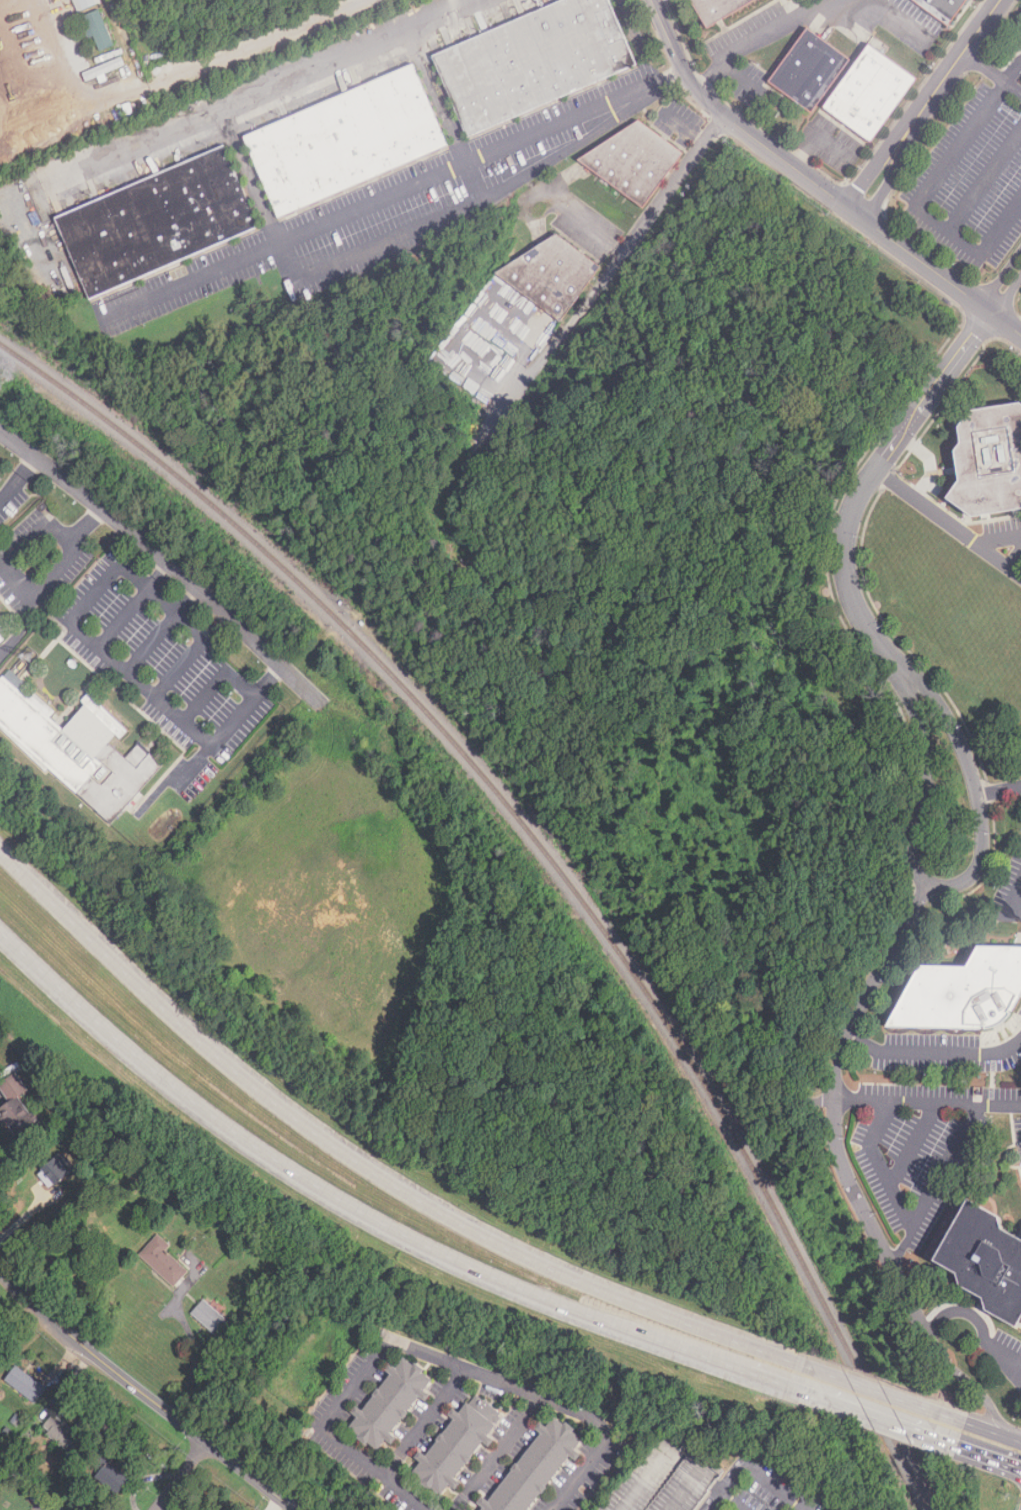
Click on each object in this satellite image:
building: (84, 4)
building: (943, 8)
building: (717, 9)
road: (902, 20)
building: (98, 30)
road: (761, 36)
building: (533, 61)
building: (809, 70)
road: (1012, 70)
road: (992, 72)
road: (742, 77)
road: (269, 85)
road: (437, 91)
building: (870, 93)
road: (925, 105)
road: (817, 135)
building: (345, 139)
building: (634, 160)
road: (250, 174)
road: (984, 180)
road: (674, 183)
road: (813, 184)
road: (393, 192)
road: (919, 202)
building: (156, 221)
road: (583, 221)
road: (388, 238)
building: (552, 274)
road: (1007, 288)
road: (600, 289)
road: (534, 371)
building: (986, 461)
road: (18, 479)
road: (867, 485)
road: (945, 514)
road: (1000, 535)
road: (144, 544)
road: (1016, 556)
road: (1016, 566)
road: (25, 590)
road: (133, 604)
road: (160, 628)
building: (1, 639)
road: (194, 651)
road: (124, 667)
road: (217, 683)
building: (79, 750)
road: (192, 763)
road: (926, 786)
road: (998, 787)
road: (975, 792)
railway: (550, 859)
road: (1011, 907)
road: (885, 962)
building: (961, 993)
road: (204, 1049)
road: (934, 1050)
road: (782, 1069)
road: (839, 1069)
road: (928, 1100)
building: (16, 1107)
road: (912, 1144)
road: (879, 1164)
building: (56, 1168)
road: (937, 1183)
road: (344, 1202)
building: (983, 1260)
building: (163, 1261)
road: (903, 1280)
road: (613, 1293)
building: (209, 1317)
road: (982, 1325)
road: (195, 1346)
road: (430, 1355)
road: (1019, 1375)
road: (767, 1378)
building: (25, 1384)
road: (878, 1392)
road: (144, 1396)
building: (390, 1404)
road: (847, 1406)
road: (423, 1421)
road: (992, 1431)
building: (62, 1433)
road: (932, 1437)
building: (457, 1445)
road: (496, 1453)
road: (989, 1456)
building: (532, 1466)
road: (750, 1467)
road: (182, 1475)
building: (112, 1477)
building: (664, 1478)
parking garage: (664, 1478)

